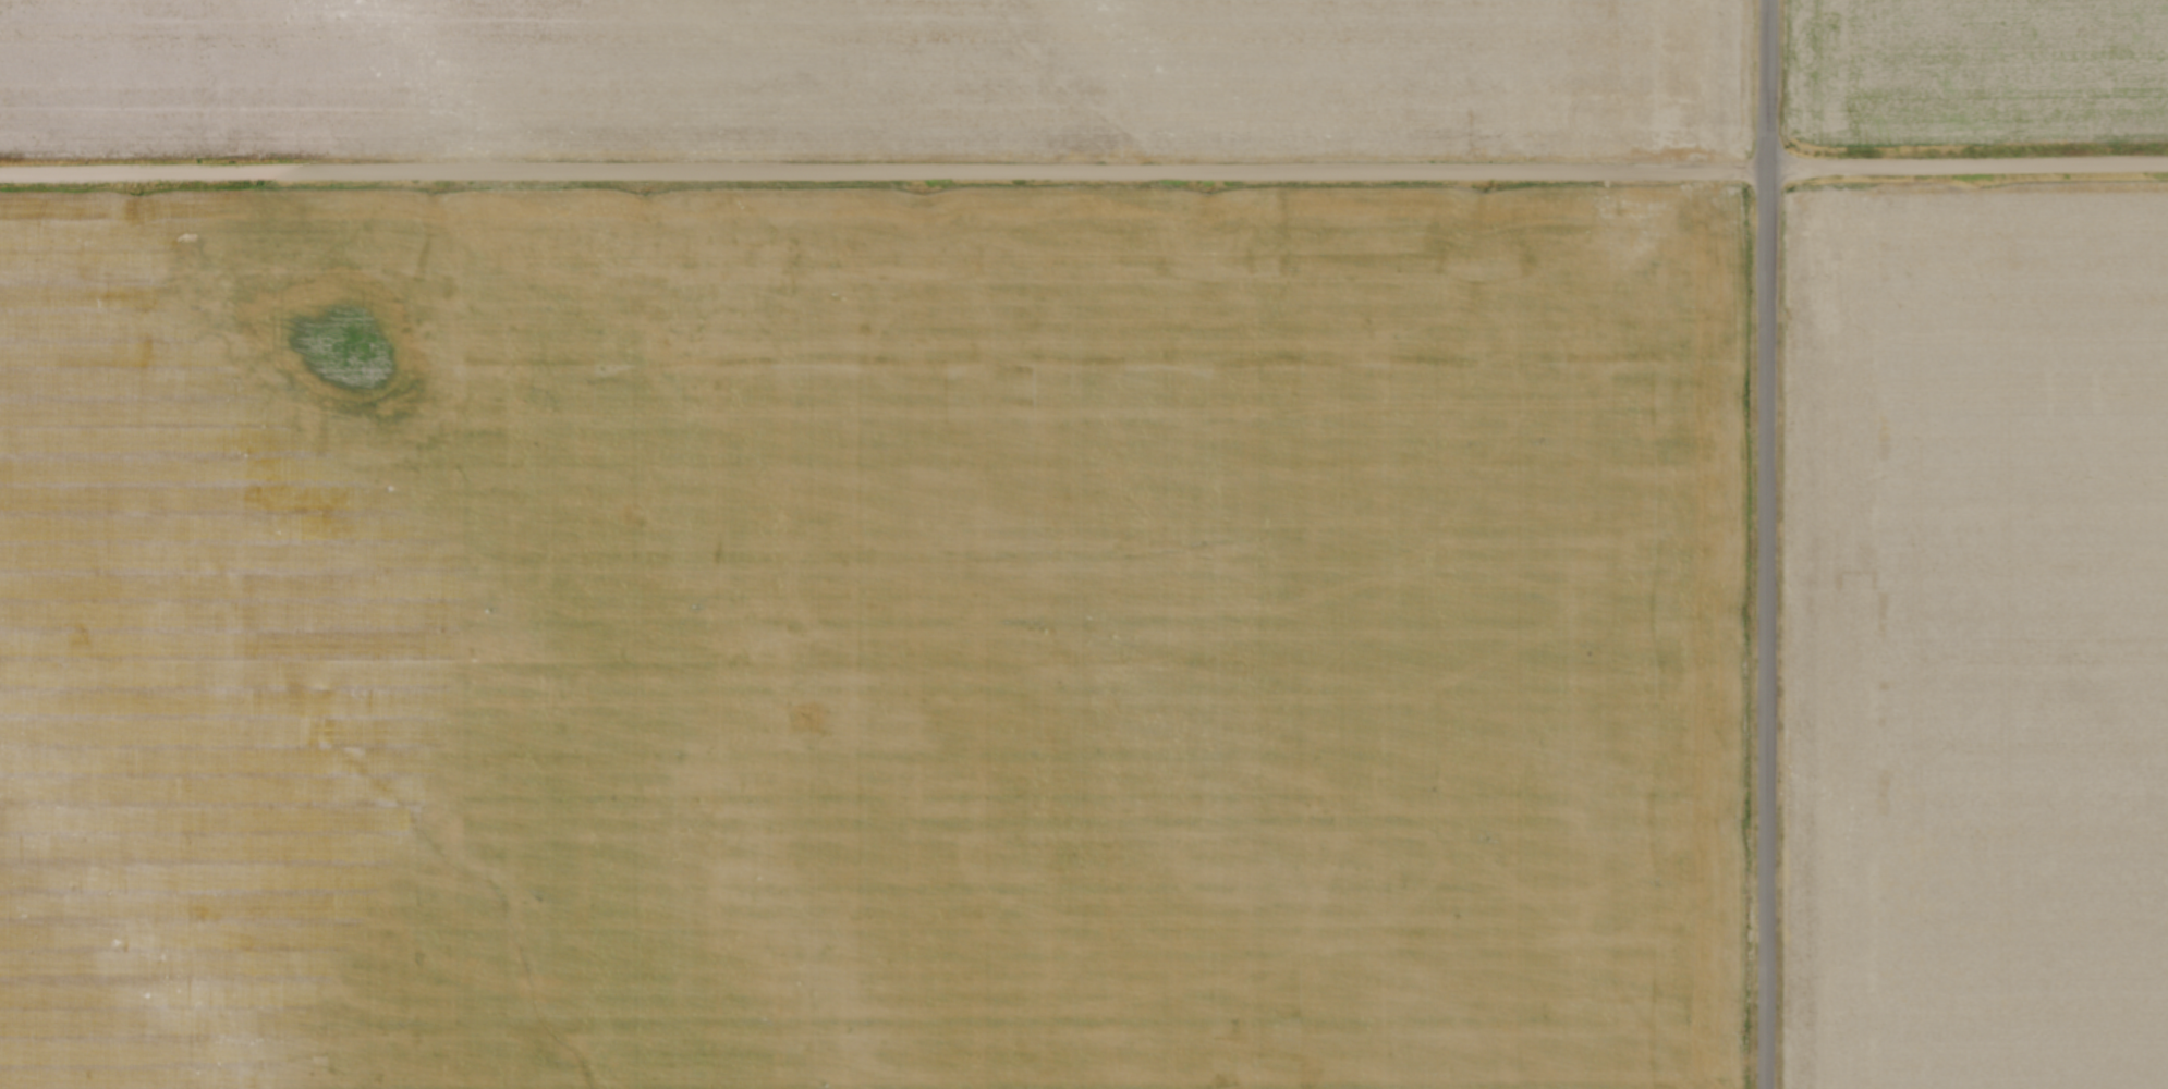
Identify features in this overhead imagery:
road: (1084, 170)
road: (1767, 543)

